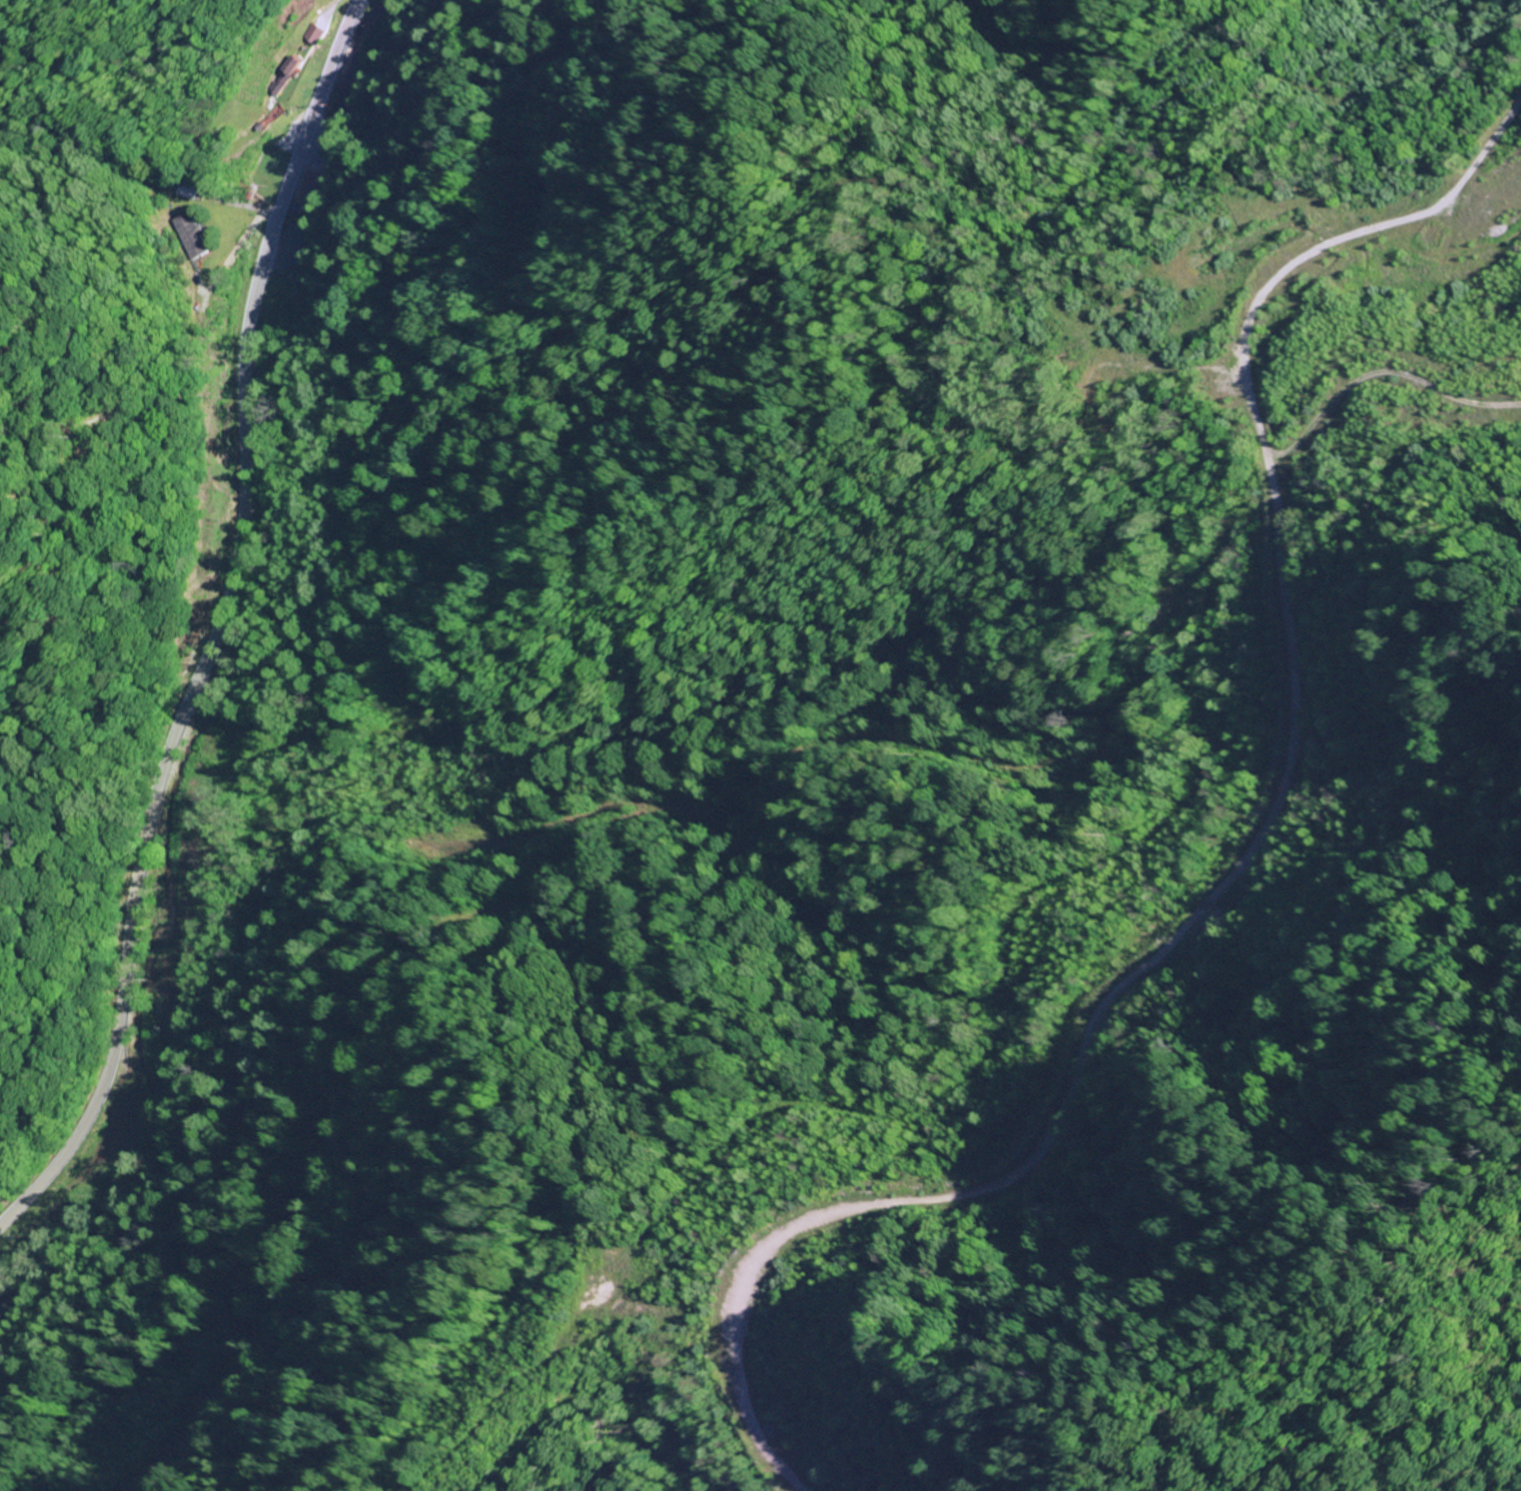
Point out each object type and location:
building: (284, 76)
building: (184, 189)
building: (191, 236)
building: (292, 245)
road: (216, 625)

